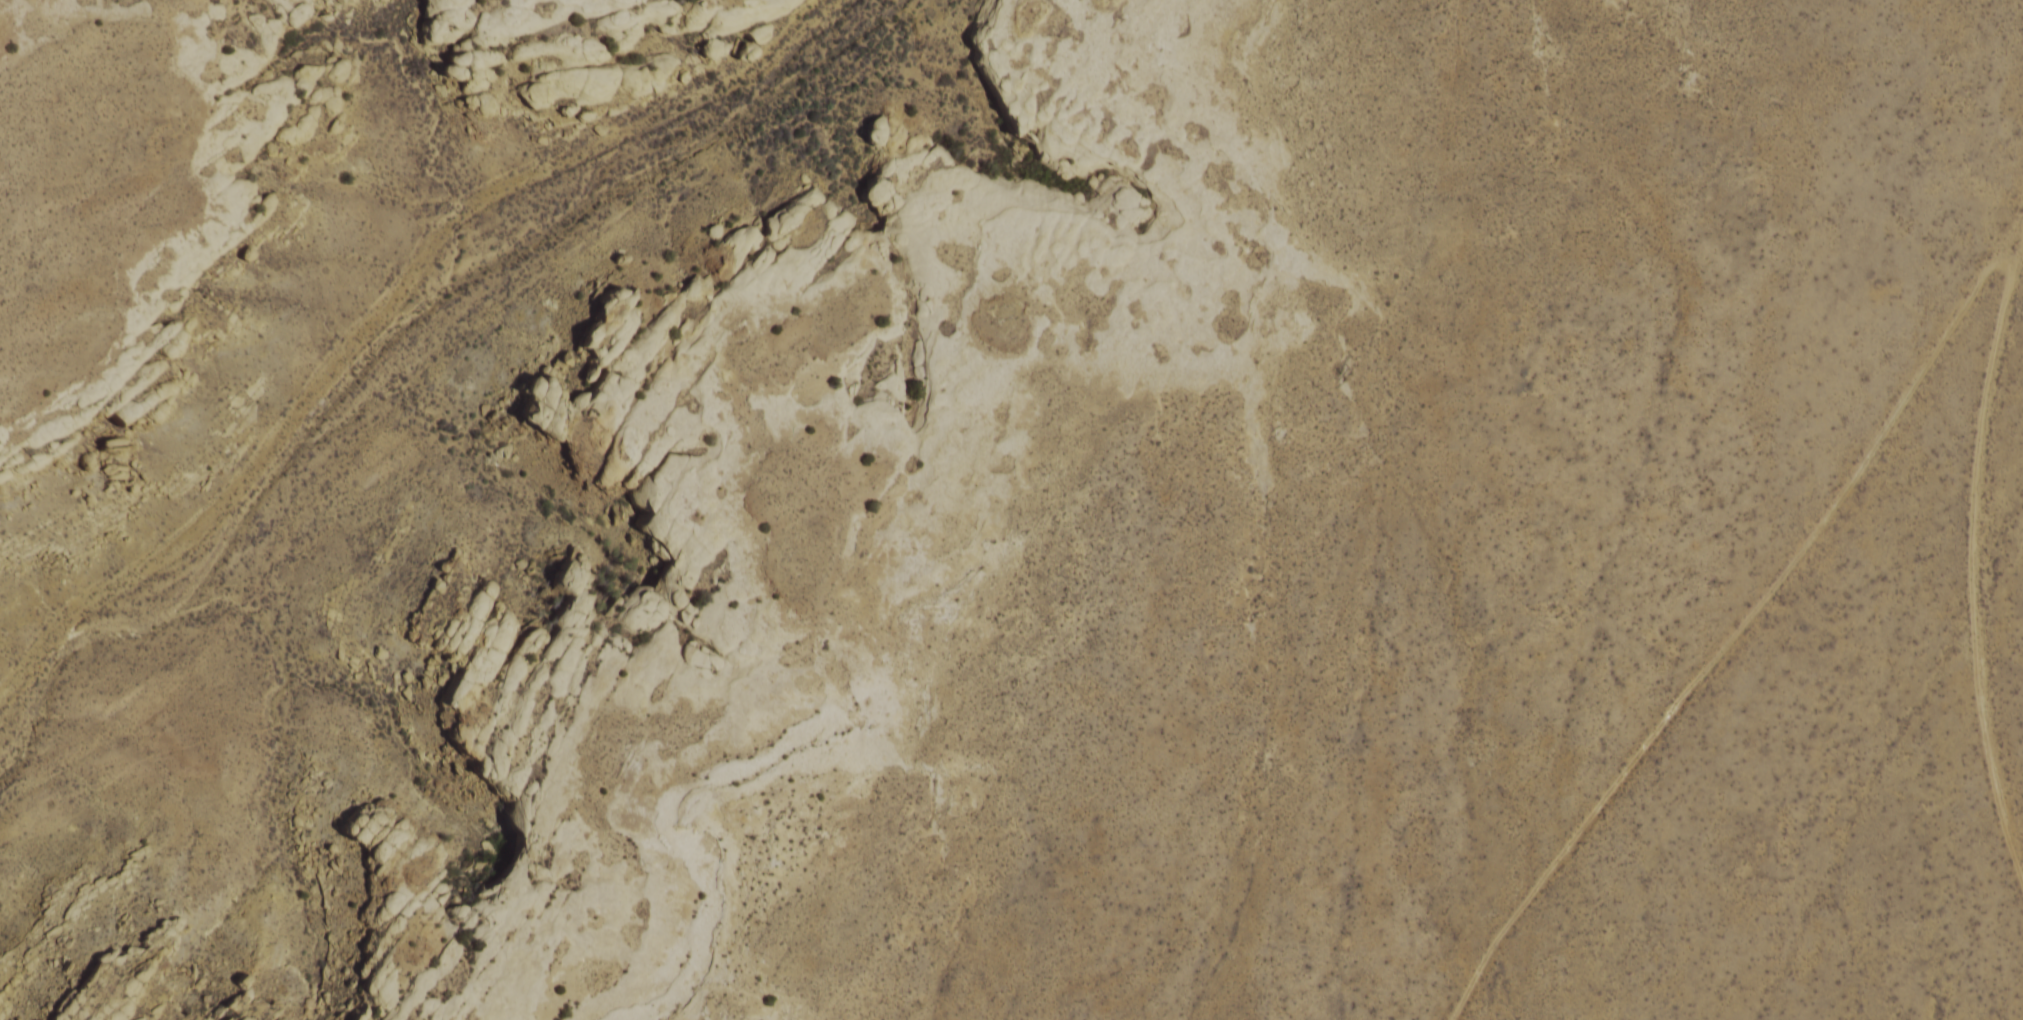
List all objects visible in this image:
road: (1450, 83)
road: (390, 310)
road: (1981, 533)
road: (1746, 637)

